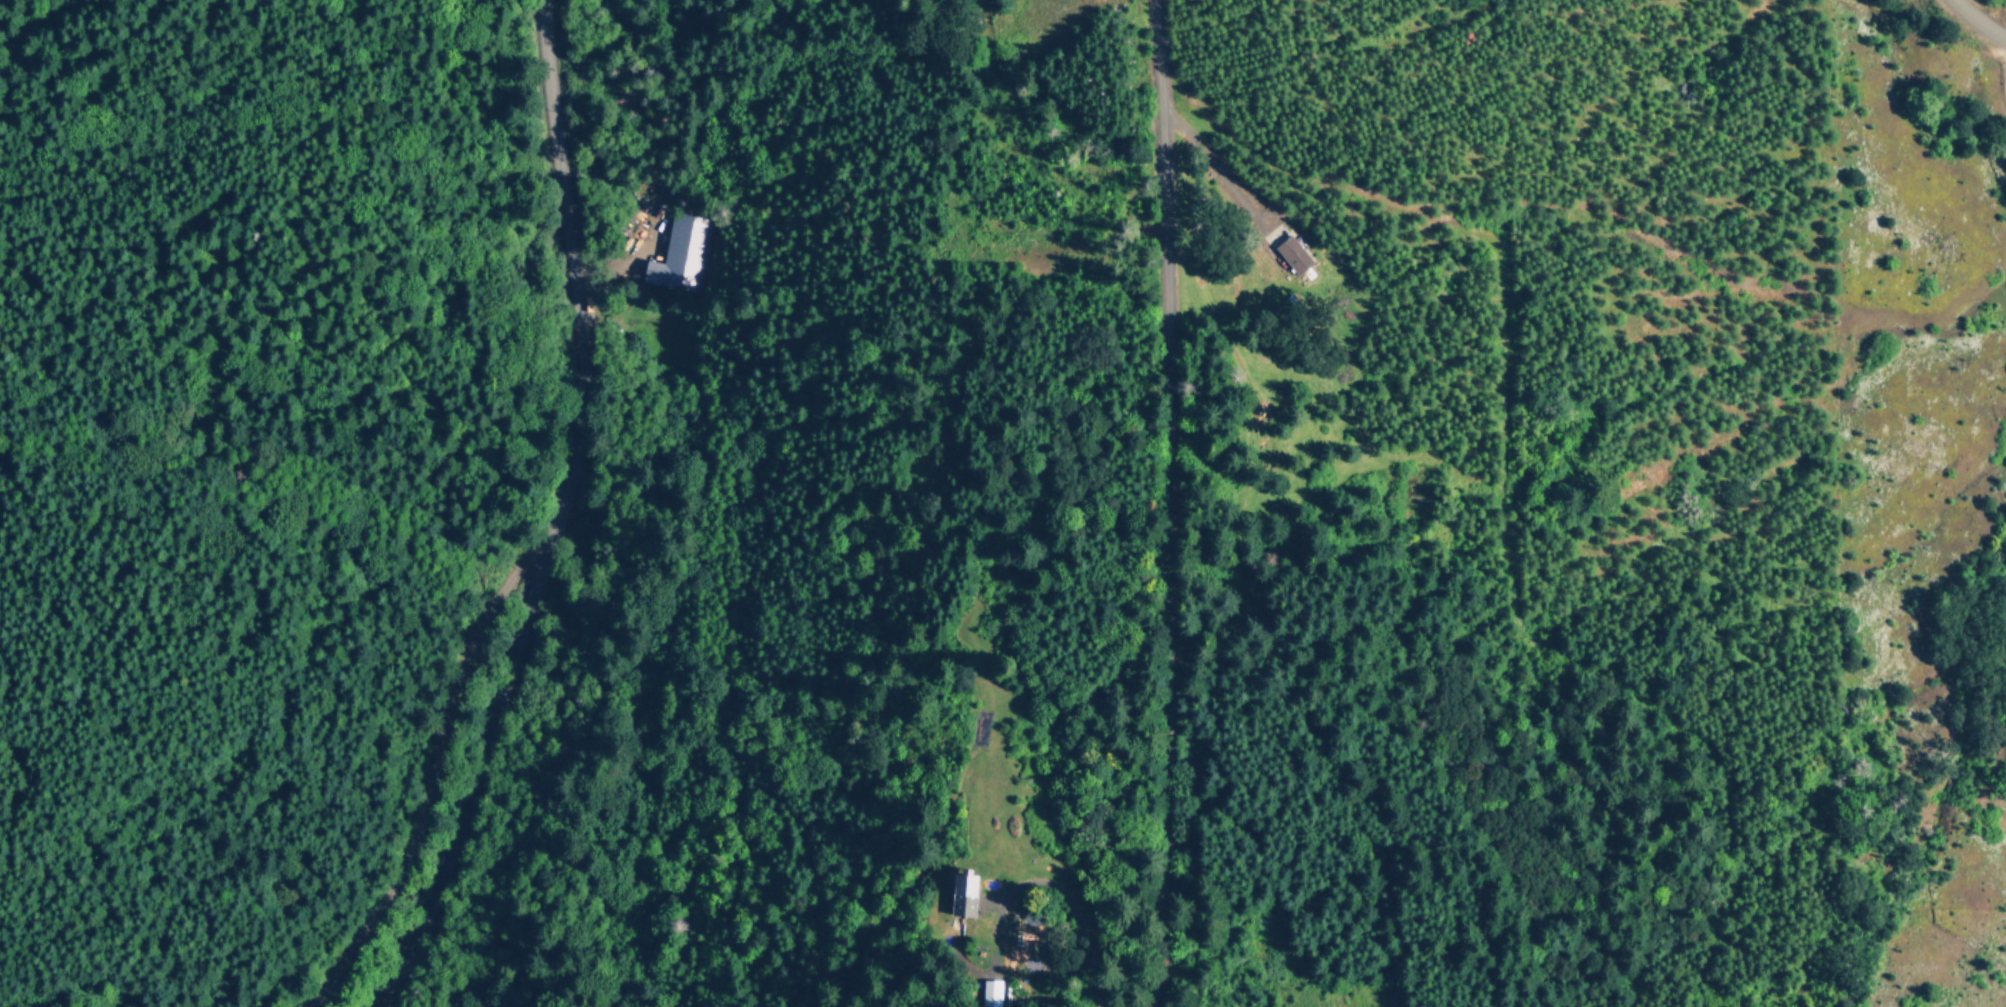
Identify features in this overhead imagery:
road: (1978, 22)
crop: (1971, 31)
road: (1217, 167)
building: (680, 254)
building: (1296, 256)
road: (1180, 503)
road: (549, 521)
building: (962, 901)

